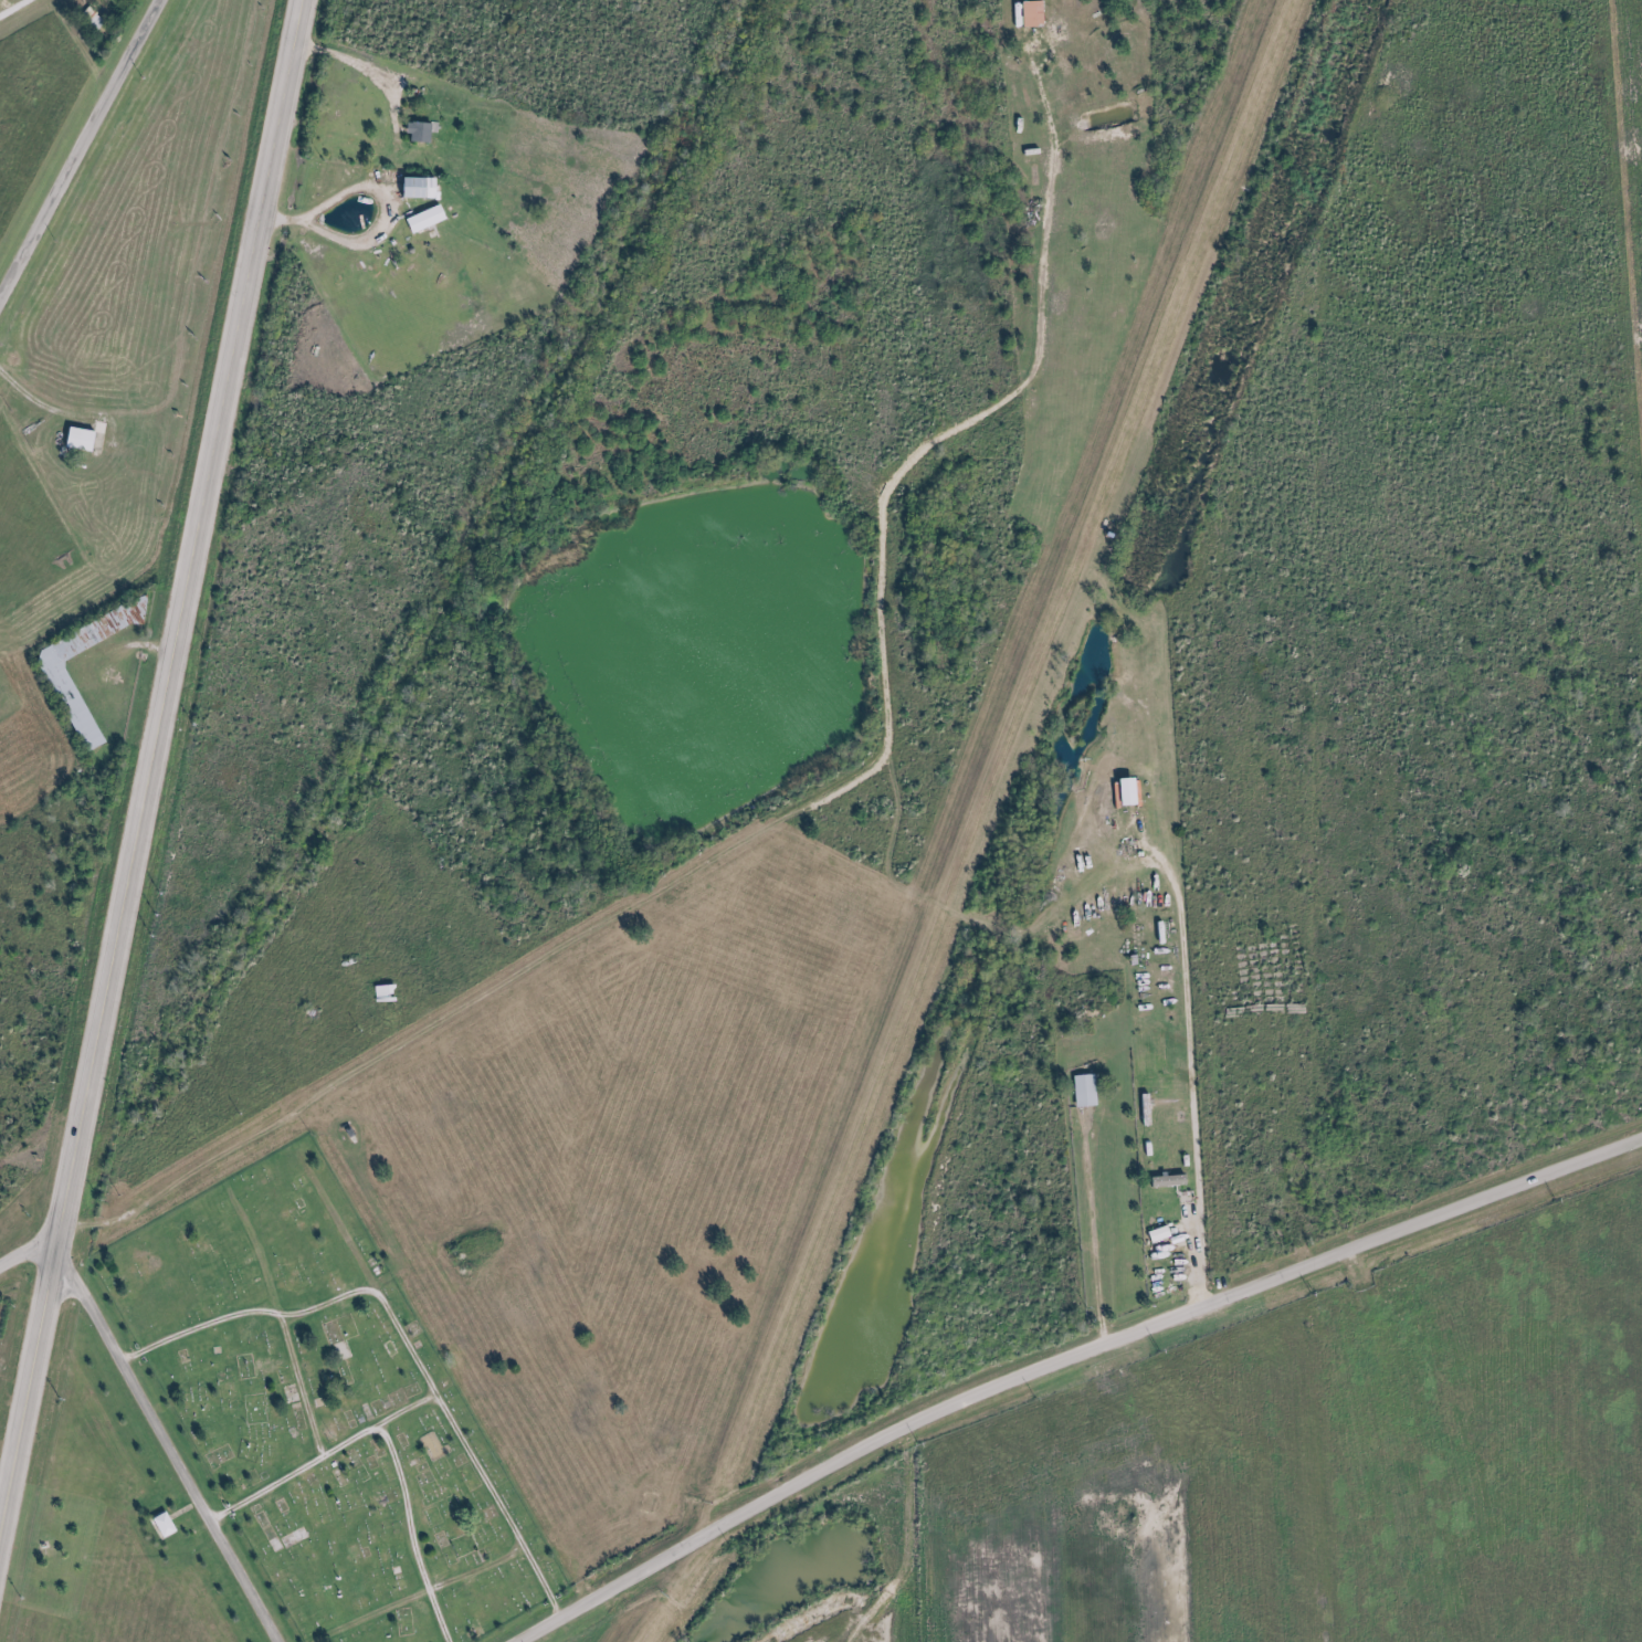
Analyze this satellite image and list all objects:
road: (10, 7)
building: (414, 133)
road: (80, 154)
building: (411, 188)
building: (421, 220)
building: (74, 440)
railway: (408, 655)
building: (66, 702)
road: (146, 768)
building: (1096, 850)
building: (381, 992)
building: (1081, 1090)
building: (1164, 1190)
road: (1092, 1209)
road: (28, 1250)
road: (1062, 1365)
park: (327, 1410)
road: (170, 1449)
building: (161, 1529)
road: (908, 1546)

